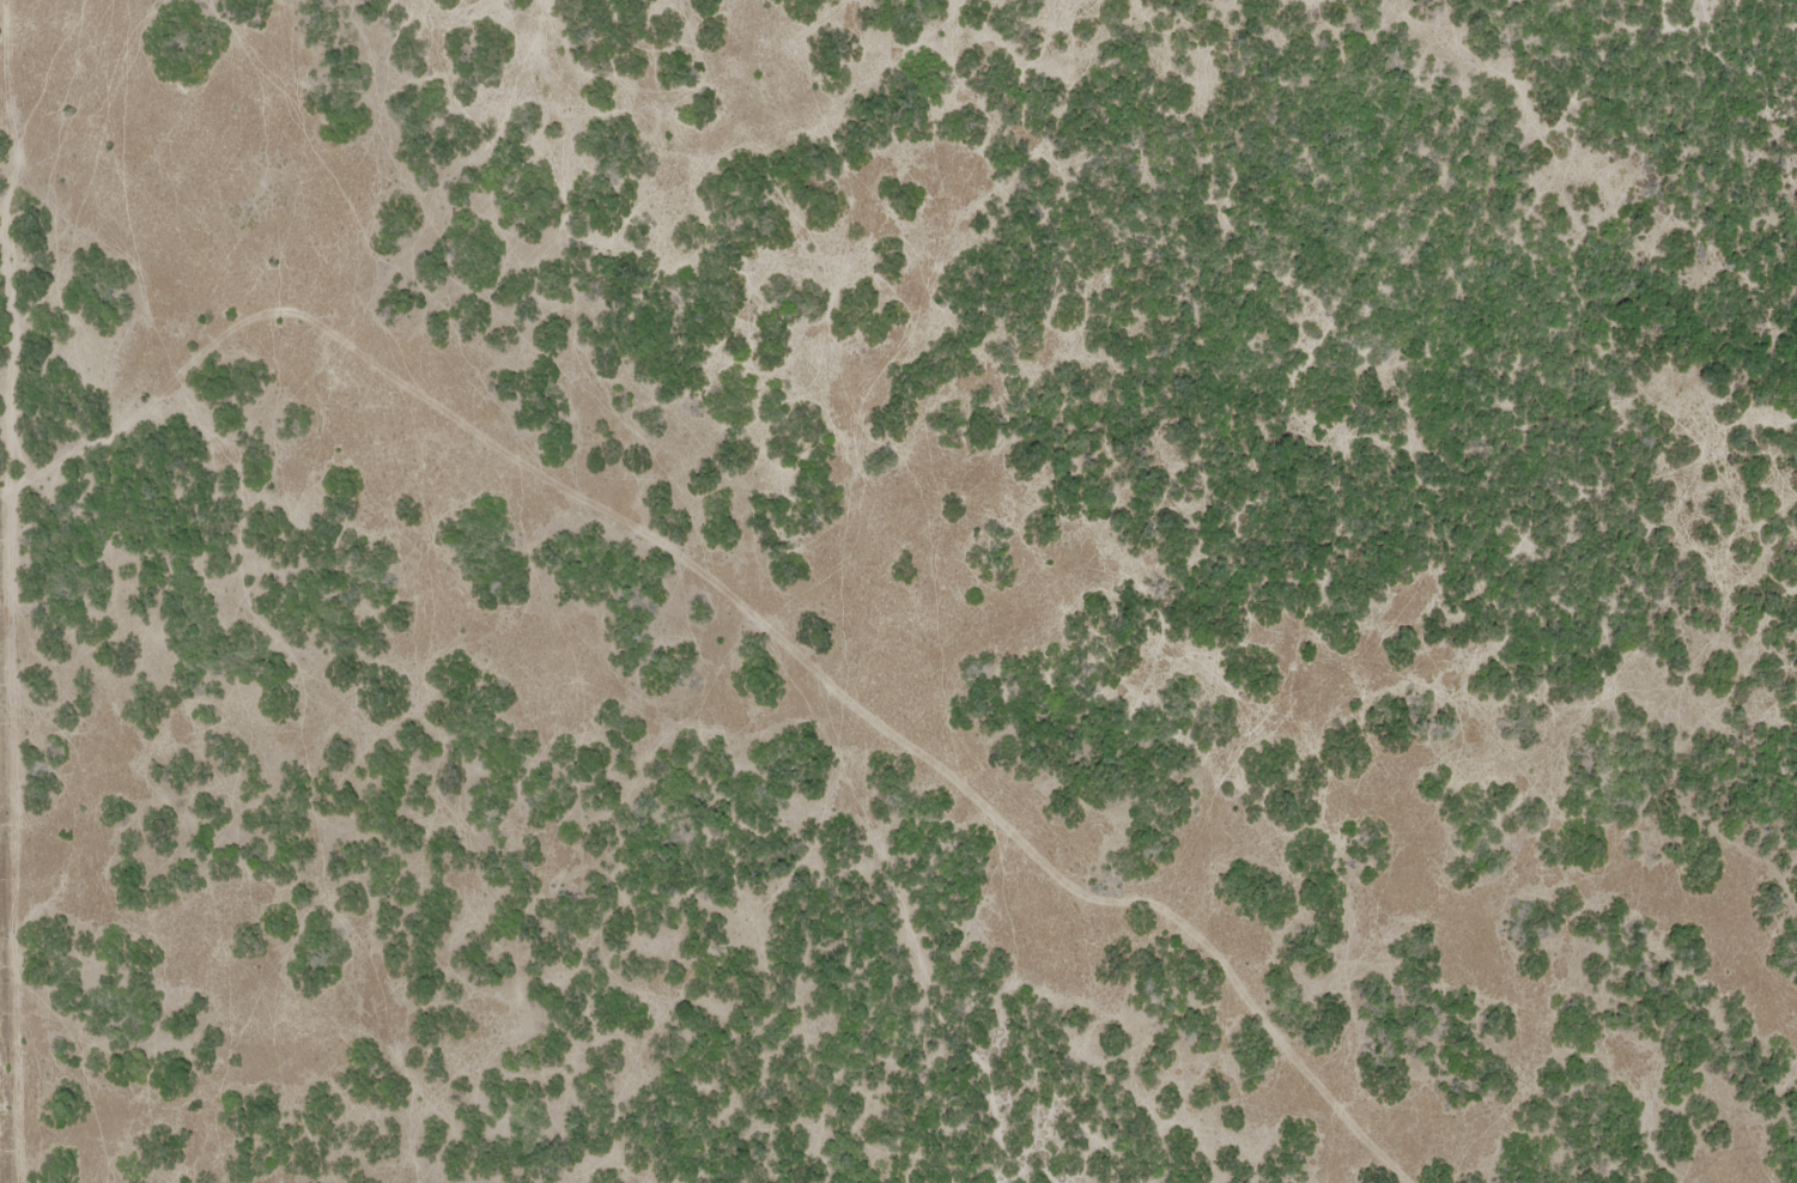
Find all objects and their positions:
road: (338, 698)

